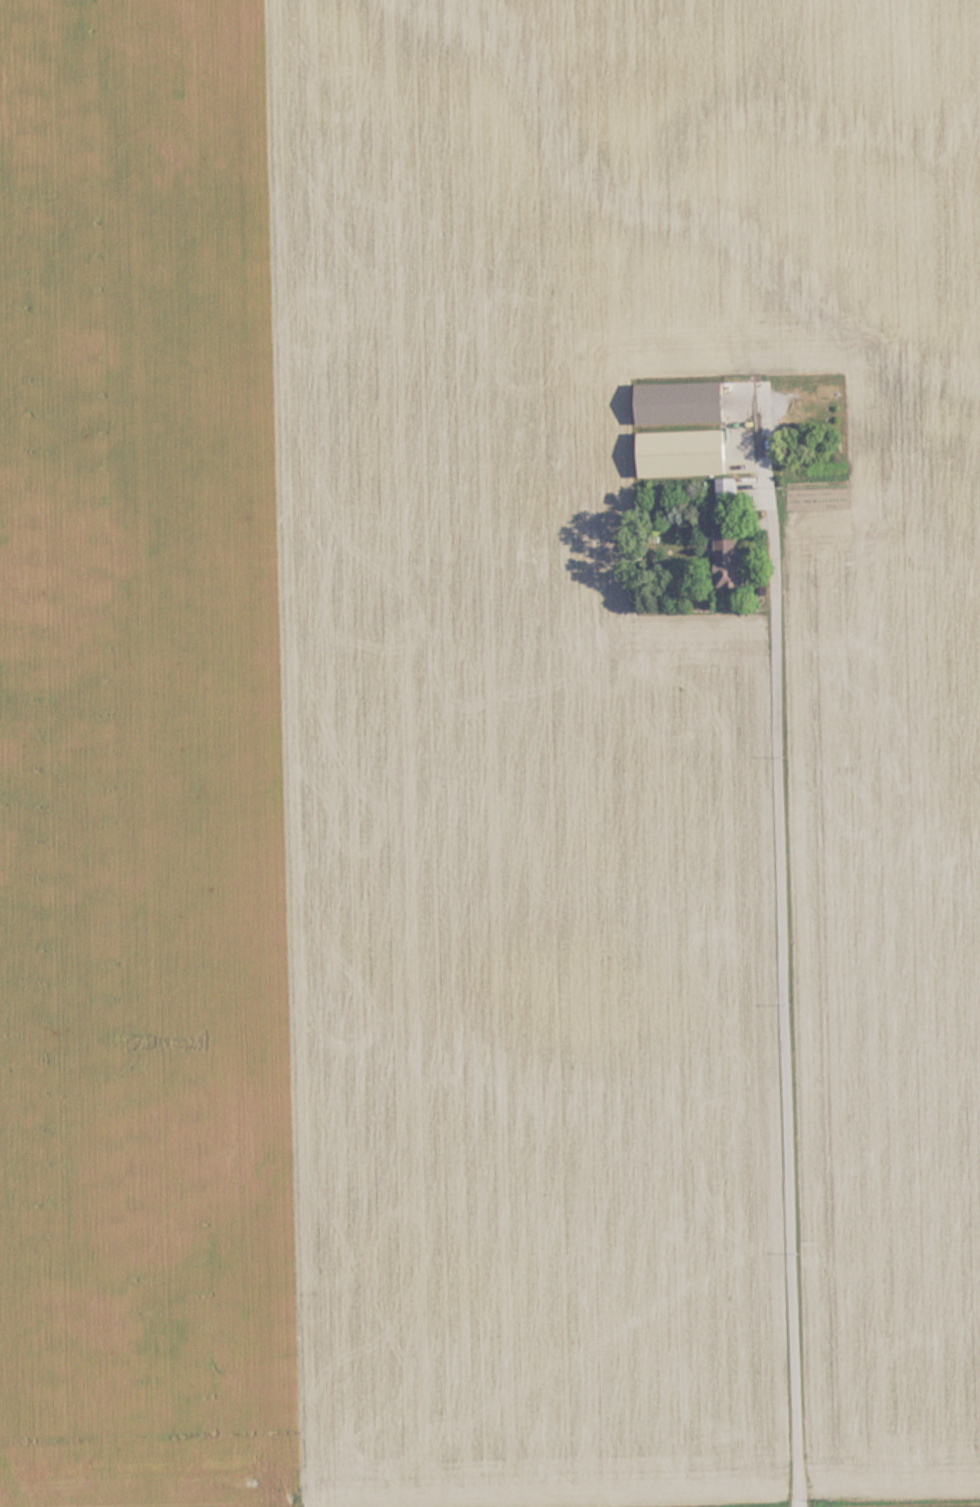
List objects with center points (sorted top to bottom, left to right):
building: (683, 403)
building: (685, 453)
building: (727, 499)
building: (728, 557)
road: (796, 1039)

